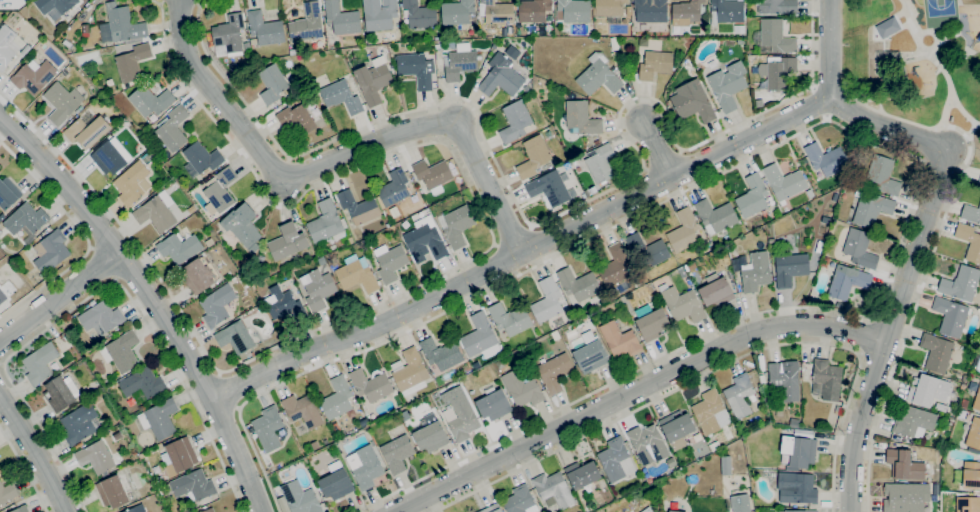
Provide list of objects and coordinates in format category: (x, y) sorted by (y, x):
road: (9, 2)
building: (777, 6)
building: (54, 8)
building: (609, 8)
building: (533, 10)
building: (628, 10)
building: (650, 10)
building: (573, 11)
building: (688, 11)
building: (726, 11)
building: (458, 12)
building: (495, 12)
building: (379, 14)
building: (420, 14)
building: (340, 19)
building: (307, 23)
building: (121, 25)
building: (265, 28)
building: (739, 29)
building: (511, 30)
building: (403, 32)
building: (229, 33)
building: (776, 36)
building: (495, 44)
building: (7, 45)
building: (246, 46)
road: (830, 49)
building: (25, 50)
building: (292, 52)
park: (914, 60)
building: (132, 62)
building: (461, 62)
road: (937, 63)
building: (655, 64)
building: (417, 69)
building: (777, 71)
building: (65, 72)
building: (598, 75)
building: (33, 76)
building: (501, 76)
building: (373, 82)
building: (272, 83)
building: (728, 85)
building: (290, 96)
building: (341, 96)
building: (151, 101)
building: (693, 101)
building: (62, 102)
road: (946, 104)
building: (78, 110)
building: (581, 118)
building: (297, 119)
building: (515, 121)
building: (173, 128)
building: (87, 131)
building: (328, 132)
road: (853, 132)
road: (656, 149)
building: (202, 157)
building: (533, 157)
building: (109, 158)
building: (146, 159)
road: (332, 159)
building: (826, 159)
building: (601, 163)
building: (433, 174)
building: (883, 174)
building: (979, 180)
building: (784, 182)
building: (132, 183)
building: (394, 187)
building: (549, 188)
building: (220, 191)
building: (8, 193)
building: (586, 193)
building: (810, 193)
building: (753, 196)
building: (358, 207)
building: (872, 209)
building: (971, 213)
building: (155, 214)
road: (523, 215)
building: (715, 216)
building: (826, 220)
building: (25, 221)
building: (328, 223)
building: (458, 225)
building: (243, 227)
building: (684, 230)
building: (0, 231)
road: (511, 234)
road: (84, 236)
building: (771, 240)
building: (969, 241)
building: (209, 242)
building: (287, 242)
building: (425, 242)
road: (521, 247)
building: (180, 248)
building: (858, 248)
building: (647, 250)
building: (51, 251)
road: (933, 252)
building: (261, 258)
building: (390, 261)
building: (825, 261)
road: (101, 264)
building: (692, 265)
building: (615, 266)
building: (790, 268)
road: (909, 269)
building: (755, 270)
road: (446, 272)
building: (682, 273)
building: (200, 274)
building: (357, 276)
building: (848, 281)
building: (961, 283)
building: (578, 284)
building: (319, 289)
building: (716, 291)
road: (96, 293)
road: (59, 295)
building: (2, 297)
road: (153, 299)
building: (547, 301)
building: (284, 304)
building: (683, 304)
building: (217, 305)
building: (839, 305)
building: (951, 316)
building: (100, 317)
building: (509, 318)
building: (651, 322)
road: (864, 334)
building: (555, 335)
building: (64, 337)
building: (238, 337)
building: (481, 337)
building: (620, 340)
building: (121, 351)
building: (936, 352)
building: (441, 353)
building: (590, 353)
road: (1, 363)
building: (40, 363)
building: (555, 371)
road: (713, 371)
building: (410, 373)
building: (828, 378)
building: (785, 379)
building: (142, 383)
building: (371, 385)
building: (522, 388)
road: (229, 390)
road: (634, 390)
building: (928, 390)
building: (61, 393)
building: (960, 393)
building: (740, 395)
building: (337, 398)
building: (977, 400)
building: (964, 403)
building: (493, 404)
building: (837, 409)
building: (303, 410)
building: (711, 412)
building: (159, 419)
building: (463, 419)
building: (365, 421)
building: (422, 421)
building: (794, 422)
building: (914, 422)
building: (80, 423)
building: (677, 426)
building: (268, 428)
building: (335, 428)
building: (802, 433)
building: (728, 434)
building: (974, 434)
building: (431, 436)
building: (648, 444)
building: (78, 445)
building: (314, 445)
building: (714, 445)
building: (160, 446)
building: (974, 450)
building: (799, 451)
building: (397, 453)
building: (179, 454)
road: (34, 456)
building: (95, 457)
building: (616, 460)
building: (166, 464)
building: (904, 464)
building: (725, 465)
building: (365, 466)
road: (24, 470)
building: (751, 472)
building: (582, 474)
building: (971, 475)
building: (336, 481)
building: (193, 485)
building: (797, 488)
building: (553, 489)
building: (7, 492)
building: (112, 492)
building: (906, 497)
building: (300, 498)
building: (520, 501)
building: (741, 503)
building: (968, 504)
building: (492, 508)
building: (20, 509)
building: (136, 509)
building: (208, 510)
building: (647, 510)
building: (800, 510)
building: (672, 511)
building: (778, 511)

